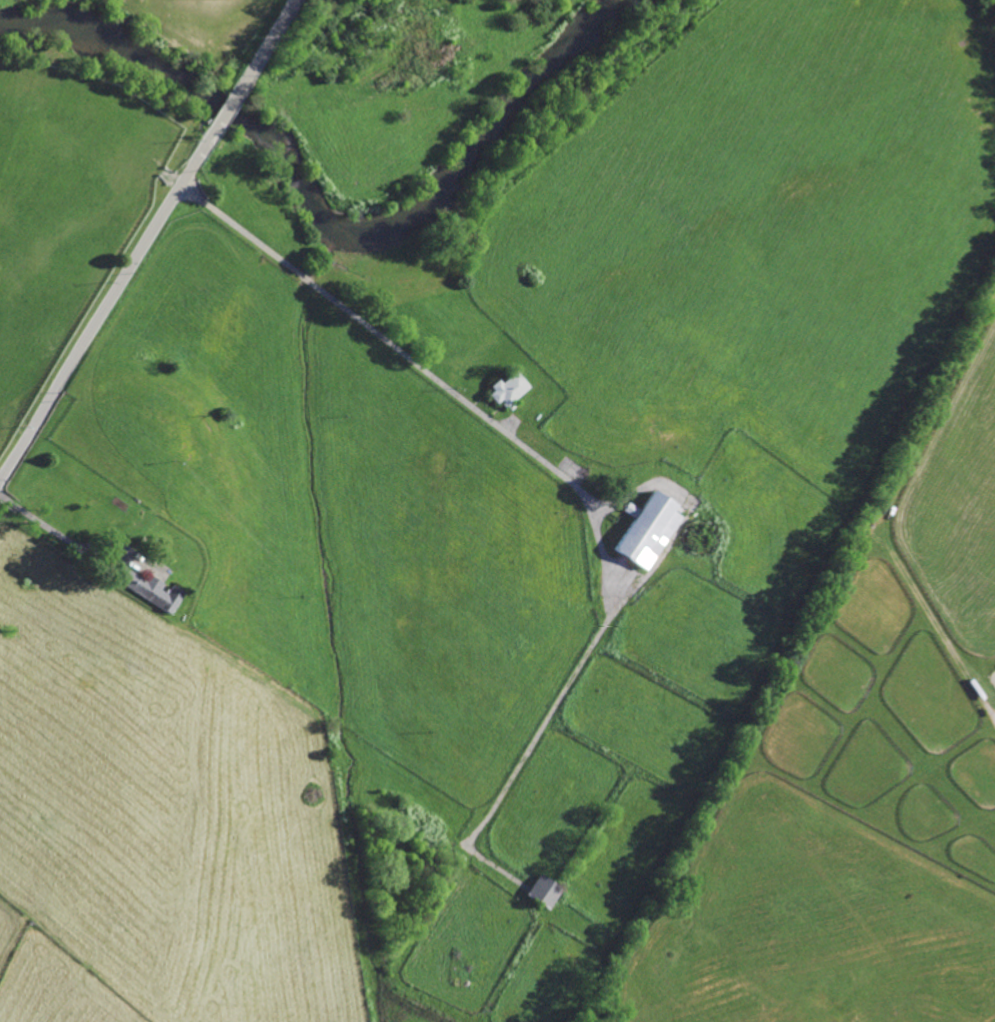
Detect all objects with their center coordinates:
road: (265, 48)
road: (228, 110)
road: (241, 228)
road: (312, 285)
road: (110, 303)
building: (508, 389)
building: (648, 527)
road: (66, 539)
road: (602, 554)
building: (149, 588)
building: (545, 891)

